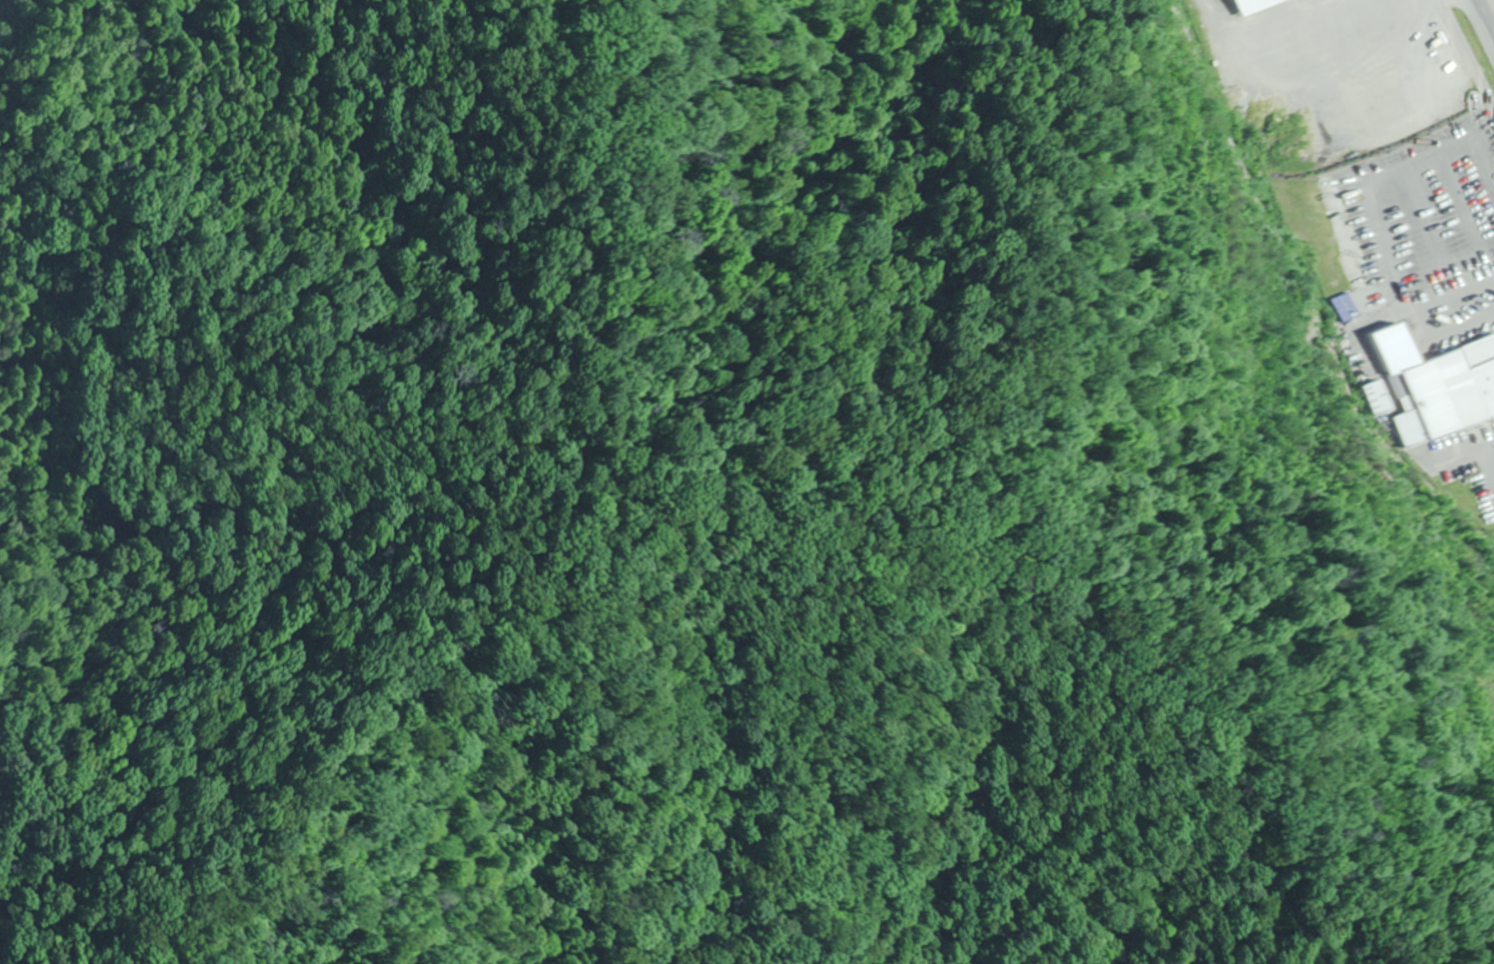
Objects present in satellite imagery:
building: (1247, 4)
road: (1483, 21)

